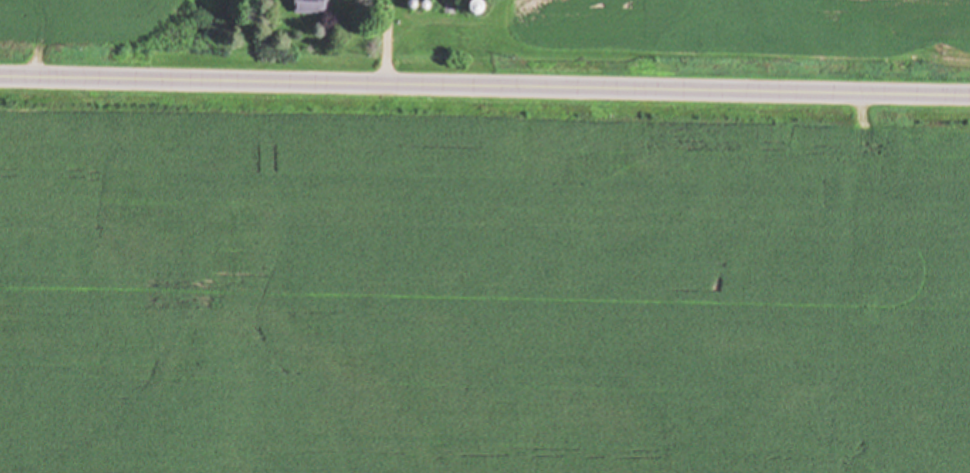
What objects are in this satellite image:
building: (312, 7)
building: (889, 8)
road: (485, 86)

